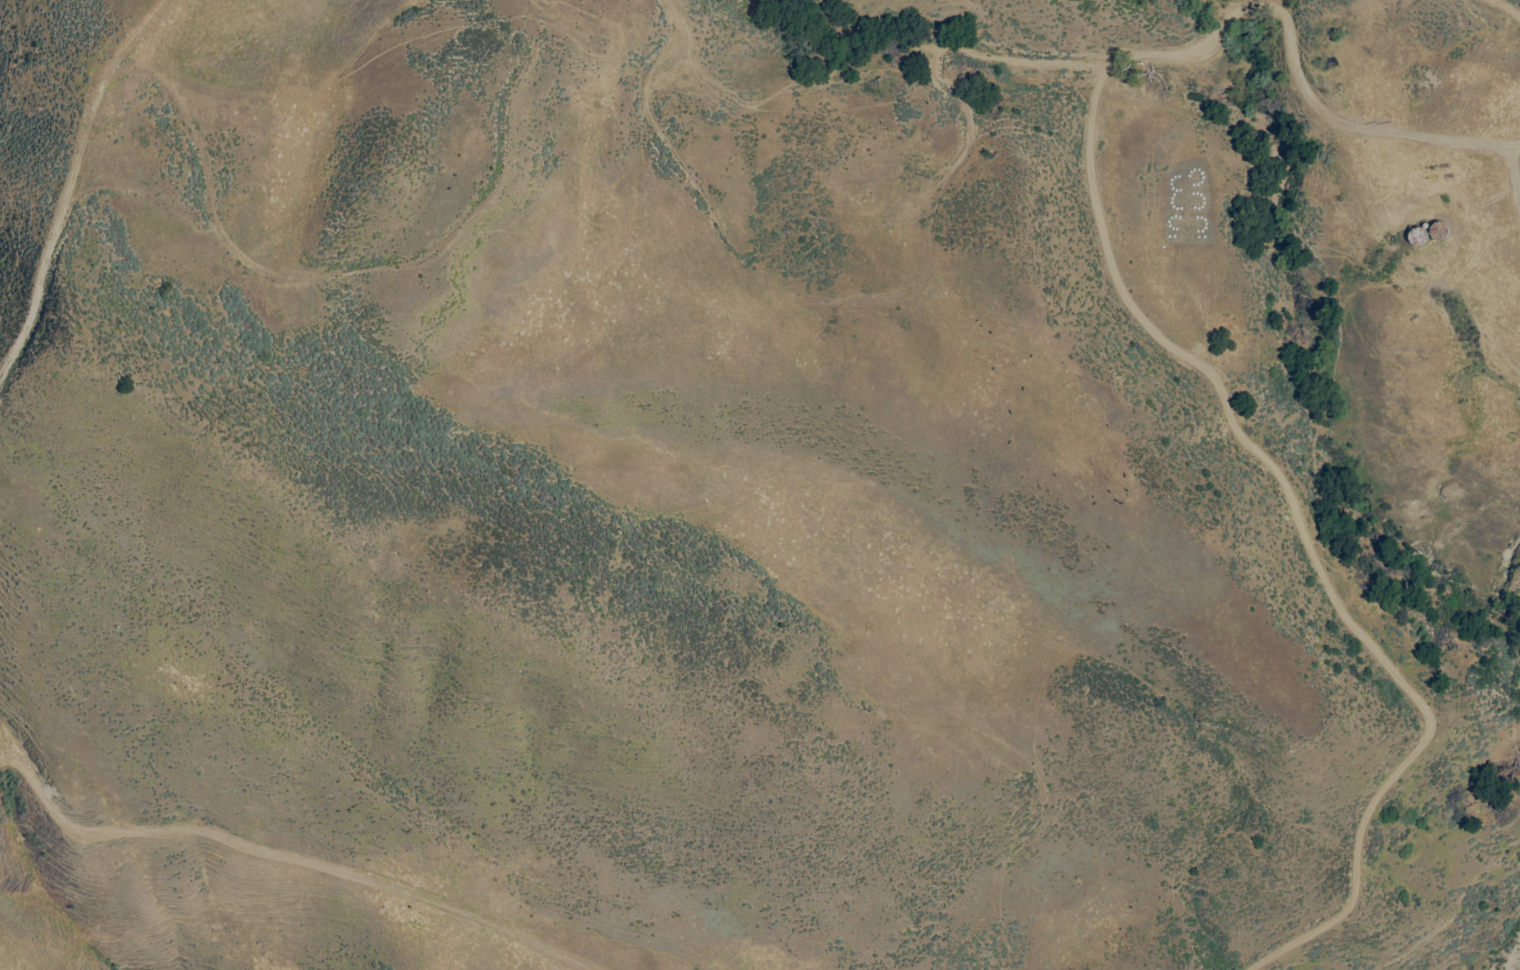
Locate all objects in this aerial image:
road: (1504, 13)
road: (1512, 175)
building: (1440, 229)
building: (1419, 235)
road: (1161, 333)

